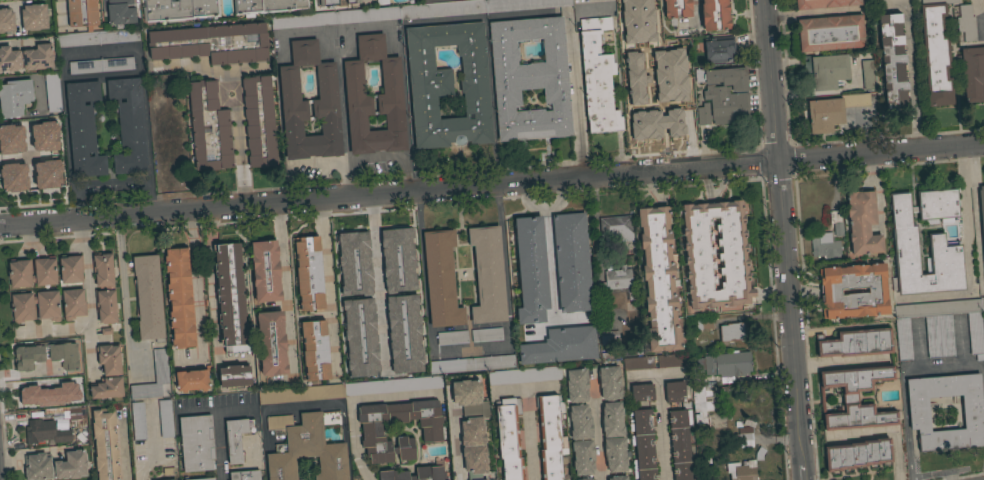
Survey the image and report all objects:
building: (592, 1)
building: (637, 1)
building: (983, 1)
building: (353, 2)
building: (328, 3)
building: (824, 3)
building: (266, 6)
building: (472, 7)
building: (179, 10)
building: (676, 10)
road: (694, 11)
building: (120, 13)
road: (60, 14)
building: (714, 15)
road: (980, 15)
building: (34, 17)
building: (334, 17)
building: (6, 20)
building: (83, 21)
building: (965, 22)
building: (633, 28)
building: (830, 34)
building: (211, 43)
building: (635, 49)
building: (718, 49)
road: (97, 51)
building: (678, 52)
building: (935, 52)
building: (38, 57)
road: (572, 58)
building: (9, 60)
building: (101, 65)
building: (893, 65)
building: (826, 71)
road: (910, 71)
building: (972, 74)
building: (868, 75)
building: (353, 77)
building: (597, 78)
building: (529, 79)
building: (672, 82)
building: (155, 84)
building: (637, 84)
building: (448, 85)
road: (656, 89)
building: (52, 92)
building: (722, 95)
building: (14, 97)
building: (323, 99)
building: (678, 111)
building: (832, 111)
road: (343, 116)
road: (237, 122)
building: (259, 122)
building: (642, 122)
building: (129, 125)
building: (208, 127)
building: (83, 129)
building: (40, 138)
building: (9, 141)
building: (173, 152)
road: (347, 164)
building: (43, 176)
building: (11, 179)
road: (112, 181)
road: (491, 186)
building: (937, 204)
road: (542, 211)
building: (981, 212)
road: (977, 220)
building: (837, 223)
building: (862, 223)
building: (614, 225)
road: (59, 235)
road: (785, 240)
building: (826, 248)
building: (945, 248)
road: (966, 251)
building: (731, 256)
road: (549, 259)
building: (398, 260)
building: (571, 262)
building: (354, 264)
building: (70, 269)
building: (531, 270)
building: (265, 271)
building: (18, 272)
building: (308, 273)
building: (487, 275)
road: (328, 279)
building: (441, 279)
building: (658, 279)
road: (376, 281)
building: (618, 282)
road: (214, 283)
road: (284, 284)
building: (104, 288)
building: (830, 291)
road: (983, 292)
road: (88, 294)
road: (197, 294)
road: (124, 295)
building: (148, 297)
building: (179, 297)
building: (230, 298)
building: (72, 304)
building: (981, 304)
building: (21, 308)
building: (703, 324)
road: (803, 326)
building: (939, 327)
building: (733, 332)
building: (404, 335)
building: (486, 335)
building: (360, 338)
building: (451, 338)
building: (608, 339)
building: (855, 343)
building: (271, 344)
building: (561, 346)
road: (470, 348)
building: (314, 350)
building: (29, 354)
building: (672, 360)
building: (637, 363)
building: (470, 364)
building: (725, 364)
building: (160, 366)
road: (941, 371)
building: (107, 373)
building: (524, 375)
building: (234, 377)
building: (192, 380)
road: (982, 385)
building: (674, 391)
building: (641, 392)
building: (35, 394)
building: (301, 394)
building: (856, 398)
building: (610, 401)
building: (578, 404)
building: (701, 406)
road: (199, 413)
building: (972, 413)
building: (76, 416)
building: (165, 418)
building: (138, 421)
building: (471, 424)
road: (905, 427)
road: (660, 429)
road: (216, 430)
building: (45, 432)
building: (431, 432)
building: (744, 435)
building: (550, 437)
building: (236, 438)
building: (509, 438)
road: (529, 438)
road: (355, 441)
building: (196, 443)
building: (680, 443)
building: (642, 444)
building: (105, 445)
road: (154, 446)
building: (305, 447)
road: (2, 450)
building: (615, 454)
building: (857, 454)
building: (582, 457)
road: (784, 462)
building: (55, 466)
building: (744, 468)
building: (416, 473)
building: (244, 475)
road: (961, 476)
building: (618, 478)
building: (171, 479)
building: (203, 479)
building: (300, 479)
building: (485, 479)
building: (585, 479)
building: (593, 479)

